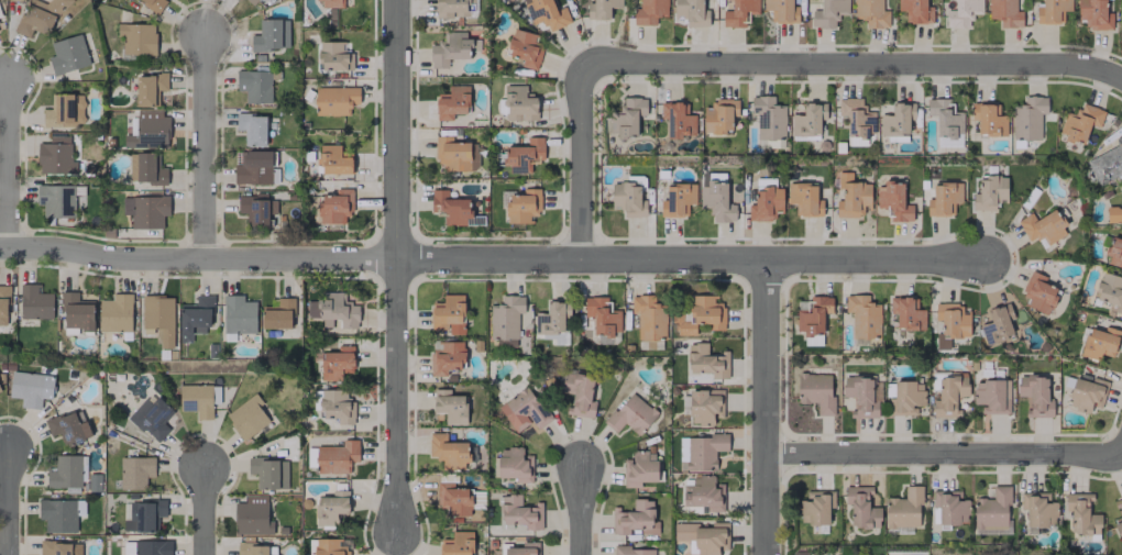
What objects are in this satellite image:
building: (238, 0)
building: (950, 0)
building: (251, 1)
building: (153, 3)
building: (330, 3)
building: (451, 8)
building: (601, 9)
building: (781, 10)
building: (649, 11)
building: (915, 11)
building: (1050, 11)
building: (691, 12)
building: (738, 12)
building: (546, 13)
building: (828, 13)
building: (870, 13)
building: (963, 13)
building: (1004, 13)
building: (1094, 13)
building: (38, 15)
building: (271, 35)
building: (136, 38)
building: (451, 48)
building: (524, 48)
building: (67, 54)
building: (333, 56)
road: (854, 64)
building: (254, 86)
building: (148, 88)
building: (334, 100)
building: (451, 102)
building: (518, 103)
building: (64, 110)
building: (626, 116)
building: (719, 116)
building: (945, 116)
building: (768, 118)
building: (1027, 118)
building: (676, 119)
building: (988, 119)
building: (807, 120)
building: (856, 120)
building: (897, 121)
building: (1079, 122)
building: (251, 127)
building: (147, 131)
road: (207, 146)
building: (454, 154)
building: (521, 155)
building: (55, 156)
building: (332, 159)
road: (584, 163)
building: (1107, 163)
road: (9, 165)
building: (145, 168)
building: (254, 168)
building: (989, 192)
building: (851, 197)
building: (944, 198)
building: (627, 199)
building: (676, 199)
building: (716, 199)
building: (803, 199)
building: (55, 200)
building: (765, 200)
building: (893, 201)
building: (334, 206)
building: (522, 206)
building: (450, 208)
building: (255, 209)
building: (145, 211)
building: (1114, 212)
building: (1042, 227)
building: (1114, 253)
road: (491, 259)
road: (397, 264)
building: (1110, 291)
building: (1038, 292)
building: (34, 302)
building: (3, 303)
building: (333, 310)
building: (76, 311)
building: (116, 312)
building: (277, 313)
building: (906, 313)
building: (238, 314)
building: (448, 314)
building: (602, 315)
building: (698, 315)
building: (862, 315)
building: (813, 317)
building: (194, 318)
building: (551, 318)
building: (648, 318)
building: (158, 319)
building: (505, 320)
building: (952, 320)
building: (997, 324)
building: (1099, 343)
building: (446, 357)
building: (706, 360)
building: (337, 363)
building: (30, 388)
building: (579, 392)
building: (815, 392)
building: (1086, 393)
building: (948, 396)
building: (991, 396)
building: (1034, 396)
building: (905, 398)
building: (197, 399)
building: (335, 406)
building: (449, 406)
building: (704, 406)
road: (766, 408)
building: (522, 410)
building: (630, 414)
building: (151, 417)
building: (246, 417)
building: (68, 428)
building: (448, 451)
building: (700, 452)
road: (944, 454)
building: (335, 457)
building: (514, 465)
building: (639, 468)
building: (67, 471)
building: (134, 471)
building: (268, 473)
building: (703, 493)
building: (452, 500)
road: (9, 501)
building: (1118, 502)
building: (330, 507)
building: (815, 507)
building: (860, 507)
building: (949, 507)
road: (204, 509)
building: (903, 509)
building: (991, 509)
building: (1037, 509)
road: (582, 510)
building: (519, 512)
building: (59, 514)
building: (1080, 514)
building: (143, 515)
building: (251, 515)
building: (635, 518)
building: (1119, 529)
building: (703, 536)
building: (457, 544)
building: (332, 546)
building: (59, 547)
building: (146, 547)
building: (255, 548)
building: (632, 551)

